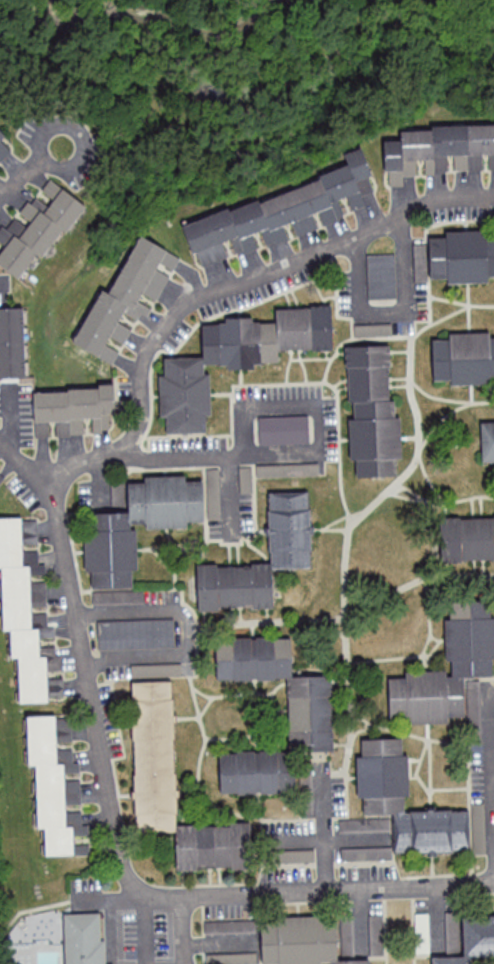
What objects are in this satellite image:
river: (149, 15)
building: (5, 146)
building: (438, 151)
road: (42, 158)
building: (282, 213)
building: (35, 228)
building: (461, 257)
road: (216, 289)
building: (126, 299)
road: (391, 314)
building: (12, 343)
building: (464, 358)
building: (236, 359)
building: (73, 411)
building: (372, 412)
building: (283, 430)
building: (487, 441)
road: (303, 453)
building: (0, 477)
road: (229, 493)
building: (290, 528)
building: (471, 538)
building: (110, 550)
building: (117, 598)
building: (28, 612)
road: (186, 629)
building: (135, 635)
building: (450, 673)
road: (492, 686)
building: (310, 716)
road: (95, 719)
road: (491, 738)
road: (493, 765)
building: (382, 780)
building: (56, 784)
building: (175, 789)
road: (326, 828)
road: (337, 892)
road: (112, 919)
road: (143, 928)
building: (84, 940)
building: (473, 941)
building: (301, 942)

